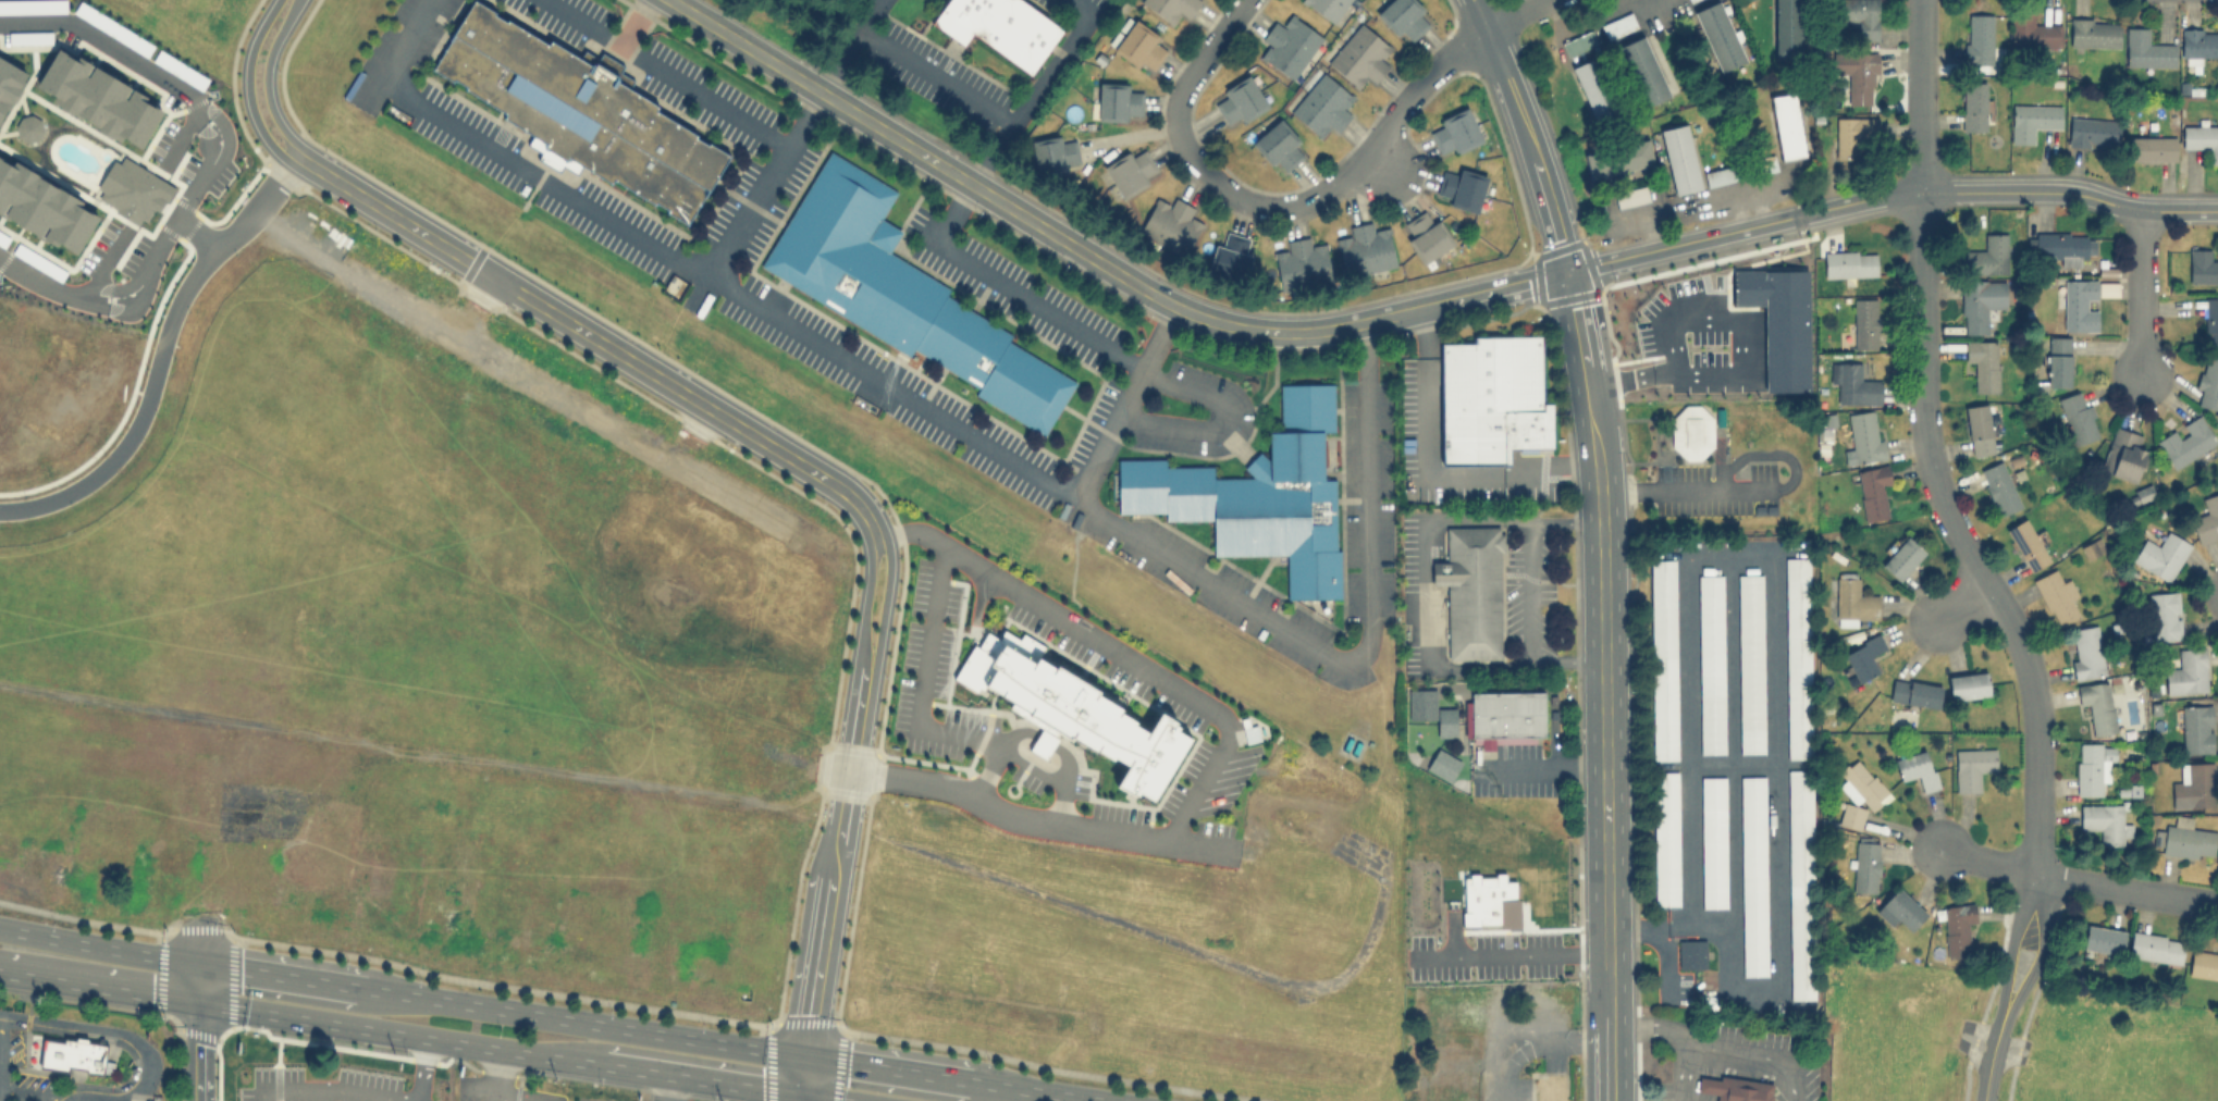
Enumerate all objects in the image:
building: (1170, 8)
building: (1327, 8)
parking lot: (1073, 12)
road: (1516, 14)
building: (1858, 16)
building: (1403, 17)
road: (1579, 23)
building: (1617, 25)
building: (1000, 27)
building: (1787, 28)
building: (2032, 32)
building: (2094, 33)
building: (1718, 35)
building: (1979, 38)
building: (1579, 42)
building: (2198, 44)
building: (1289, 45)
building: (1141, 46)
road: (749, 47)
building: (2147, 49)
building: (1359, 55)
road: (839, 59)
building: (1642, 70)
road: (670, 75)
building: (1857, 75)
road: (266, 77)
road: (1188, 83)
building: (9, 84)
road: (248, 86)
building: (1592, 87)
road: (1920, 97)
building: (99, 98)
building: (1240, 99)
building: (1118, 101)
building: (1322, 104)
building: (1973, 106)
building: (580, 110)
road: (986, 110)
building: (2033, 119)
building: (1787, 125)
building: (28, 127)
building: (1454, 131)
building: (2093, 132)
road: (1525, 134)
building: (1852, 134)
building: (2202, 138)
road: (1131, 141)
building: (1279, 146)
building: (2152, 148)
building: (1055, 153)
road: (991, 154)
road: (1360, 157)
building: (1679, 158)
building: (1618, 159)
road: (1377, 162)
road: (210, 168)
building: (1131, 170)
building: (1721, 175)
road: (769, 187)
building: (1459, 187)
building: (133, 189)
road: (2008, 195)
building: (1631, 196)
building: (44, 207)
building: (1171, 226)
road: (199, 233)
building: (1425, 234)
road: (1681, 245)
building: (2063, 245)
building: (1366, 249)
building: (1988, 255)
building: (1231, 257)
building: (1850, 263)
building: (1302, 265)
building: (2202, 265)
building: (2107, 287)
building: (903, 294)
road: (2140, 294)
building: (1980, 302)
road: (1171, 304)
building: (2080, 304)
building: (2211, 321)
building: (1863, 323)
road: (595, 337)
road: (1101, 344)
road: (160, 356)
road: (1738, 358)
building: (2057, 361)
building: (1983, 363)
building: (1853, 384)
building: (2208, 385)
building: (1494, 399)
road: (1125, 403)
building: (2078, 417)
building: (1979, 429)
building: (1690, 431)
building: (1863, 438)
road: (981, 442)
building: (2185, 442)
building: (2123, 454)
road: (1597, 466)
road: (1428, 474)
building: (1999, 487)
road: (1752, 488)
building: (1873, 491)
parking lot: (1697, 493)
building: (2143, 493)
building: (1260, 495)
building: (2206, 520)
road: (1960, 542)
building: (2026, 544)
building: (2093, 548)
building: (2160, 554)
road: (1420, 557)
building: (1901, 558)
building: (1474, 592)
road: (1529, 594)
building: (2056, 596)
road: (866, 599)
road: (884, 599)
building: (1852, 599)
road: (1961, 605)
building: (2165, 615)
road: (1111, 646)
building: (2085, 652)
building: (1864, 656)
building: (1662, 658)
building: (1798, 658)
road: (1565, 661)
building: (1750, 663)
building: (1711, 664)
building: (2188, 671)
building: (1968, 684)
building: (1914, 692)
building: (2097, 704)
building: (1072, 710)
building: (1510, 718)
building: (1446, 722)
road: (929, 726)
building: (2196, 729)
building: (1249, 730)
road: (1043, 743)
road: (995, 754)
road: (1063, 763)
building: (1444, 765)
building: (1972, 767)
building: (2091, 767)
road: (1542, 769)
building: (1917, 769)
building: (1862, 784)
building: (2193, 785)
building: (1850, 815)
road: (1038, 820)
building: (2104, 821)
road: (1604, 826)
building: (1665, 839)
building: (2186, 839)
building: (1713, 842)
road: (835, 857)
road: (1989, 863)
building: (1865, 865)
building: (1753, 876)
building: (1800, 882)
road: (2127, 890)
building: (1900, 908)
building: (1957, 928)
road: (1655, 935)
building: (2103, 939)
road: (98, 944)
building: (2156, 947)
building: (1691, 954)
road: (1520, 958)
traffic signals: (197, 961)
road: (2007, 962)
building: (2204, 962)
road: (2034, 967)
road: (1, 970)
road: (288, 975)
road: (196, 980)
road: (98, 985)
traffic signals: (195, 1001)
road: (592, 1022)
road: (1519, 1031)
road: (398, 1034)
road: (133, 1037)
road: (1607, 1044)
road: (1720, 1044)
road: (195, 1051)
traffic signals: (805, 1054)
building: (75, 1055)
road: (891, 1067)
road: (422, 1069)
road: (1683, 1069)
parking lot: (17, 1071)
road: (804, 1073)
road: (494, 1075)
road: (1987, 1075)
road: (703, 1078)
road: (673, 1087)
building: (1550, 1088)
building: (1736, 1088)
road: (1043, 1090)
road: (336, 1092)
traffic signals: (803, 1092)
road: (513, 1096)
road: (802, 1097)
road: (829, 1097)

